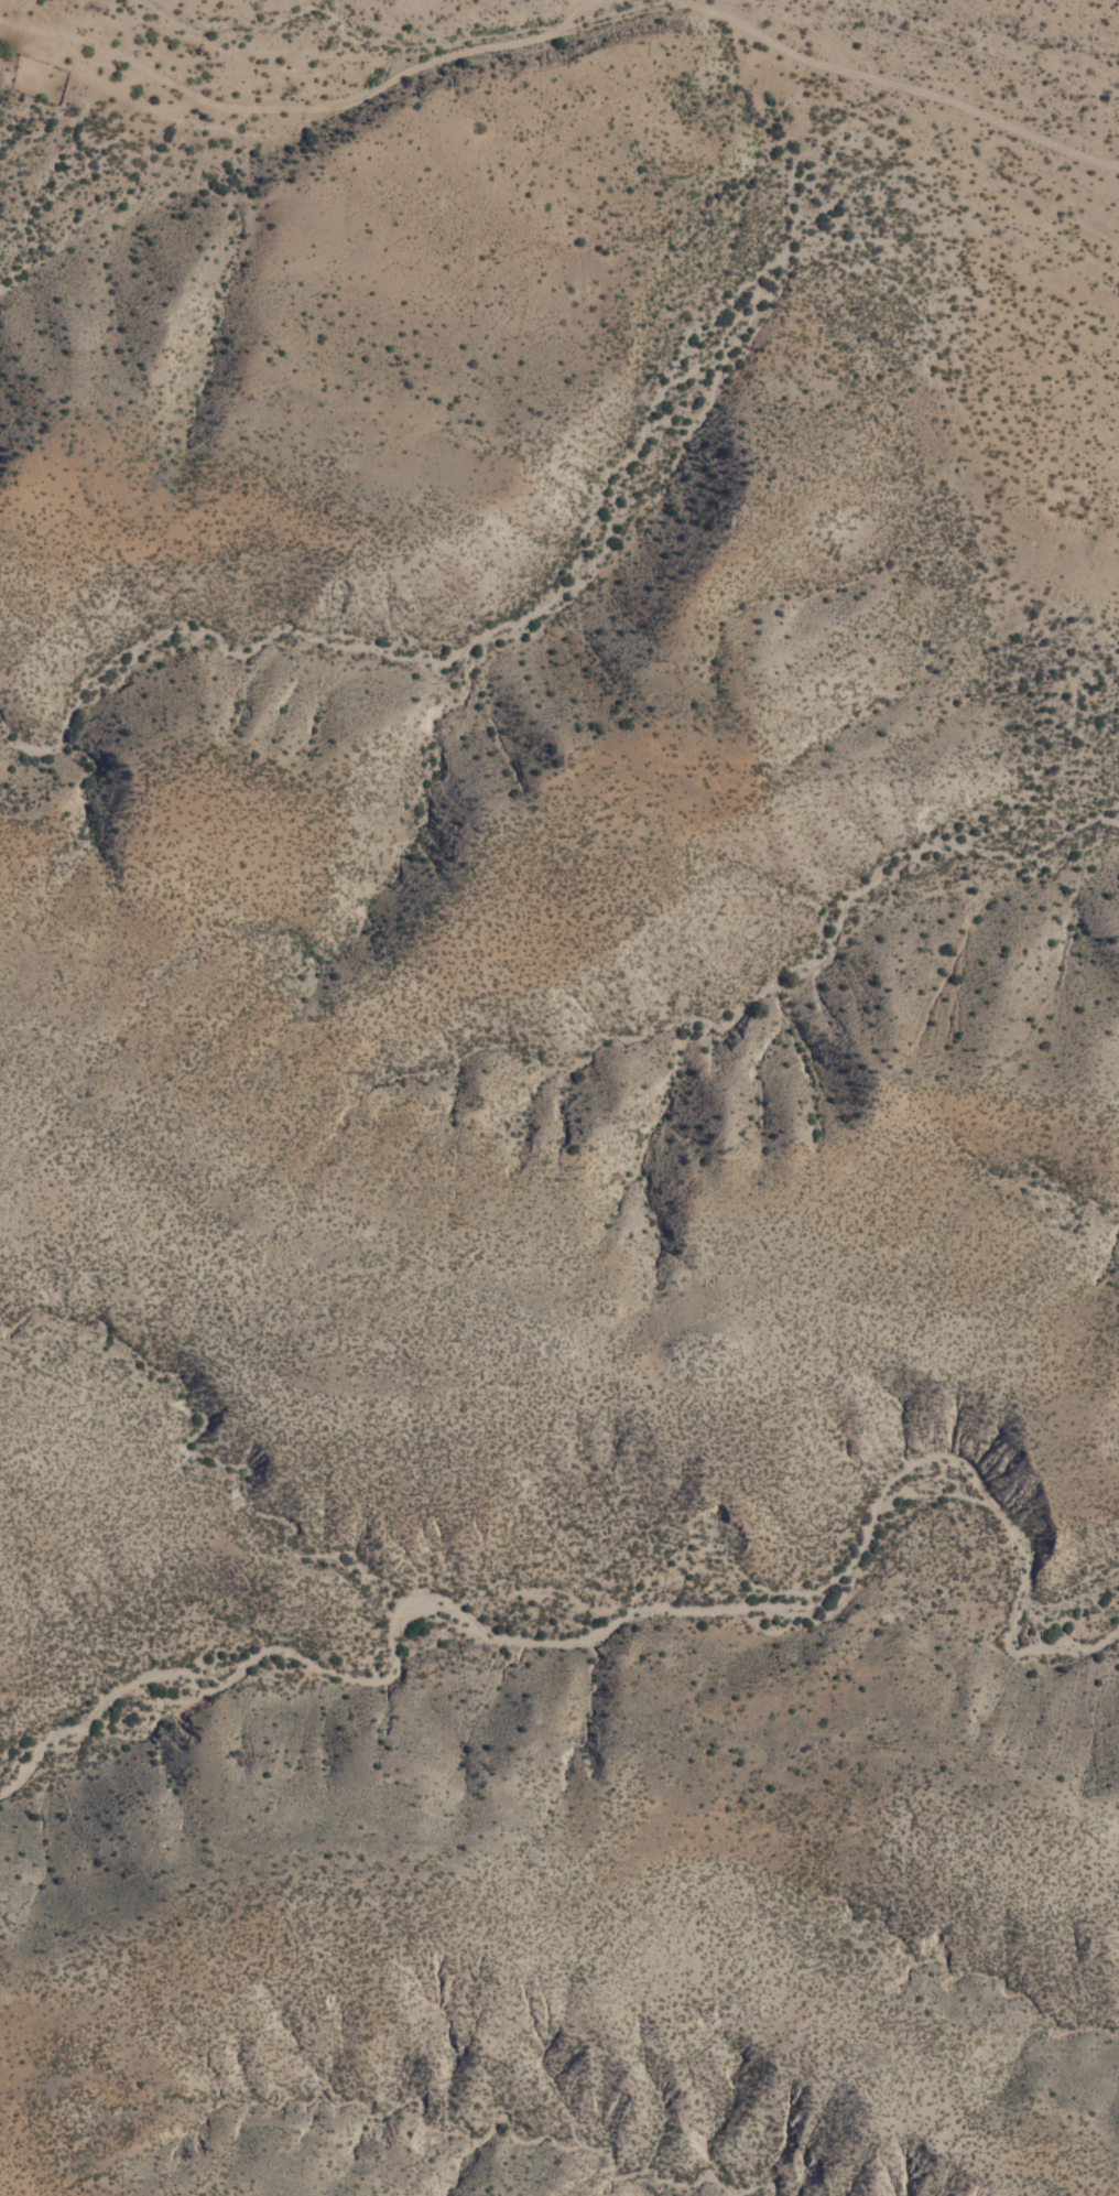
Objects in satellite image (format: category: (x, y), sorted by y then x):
road: (892, 86)
road: (298, 109)

